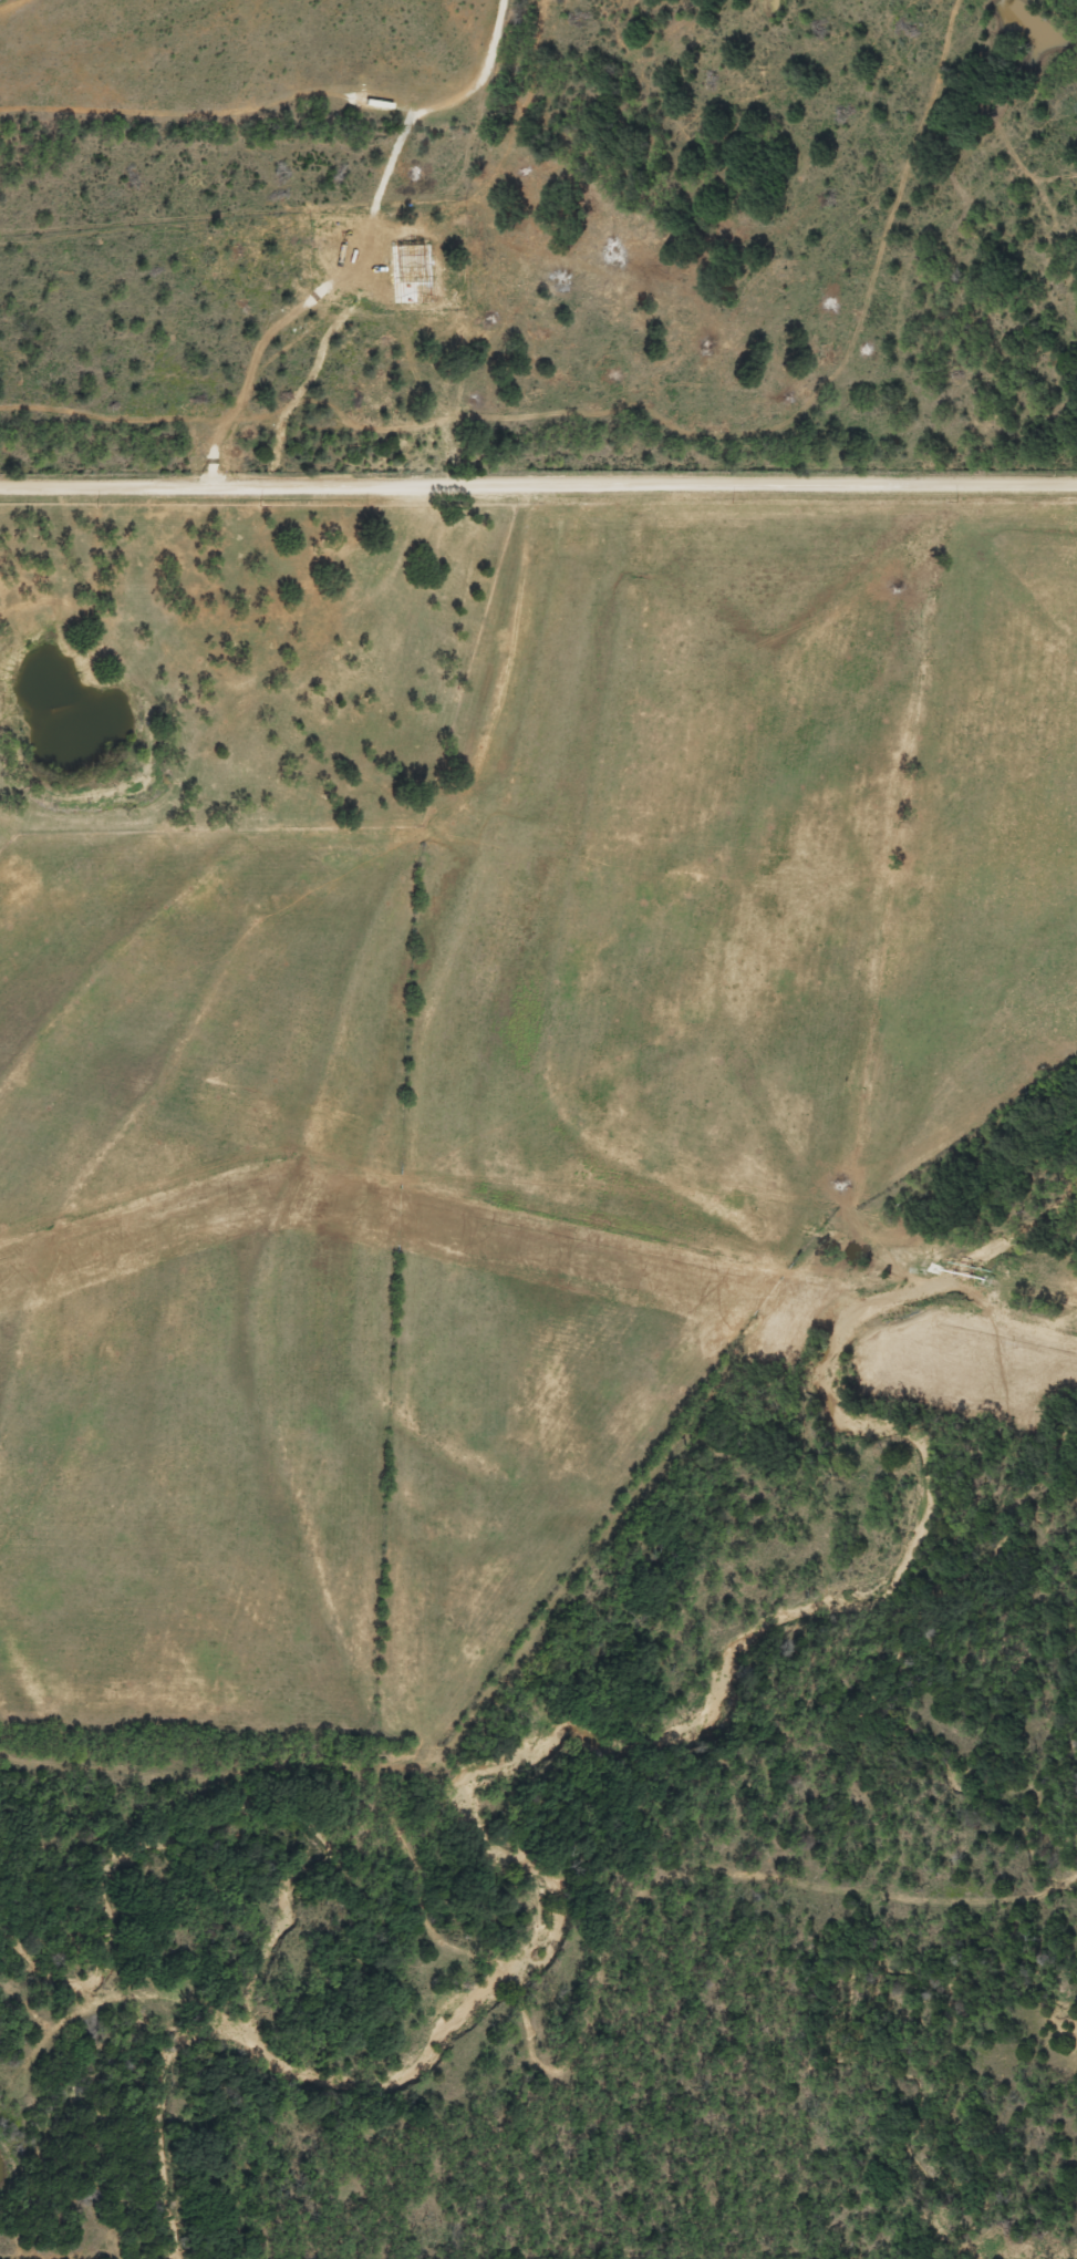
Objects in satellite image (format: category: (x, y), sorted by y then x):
road: (538, 481)

